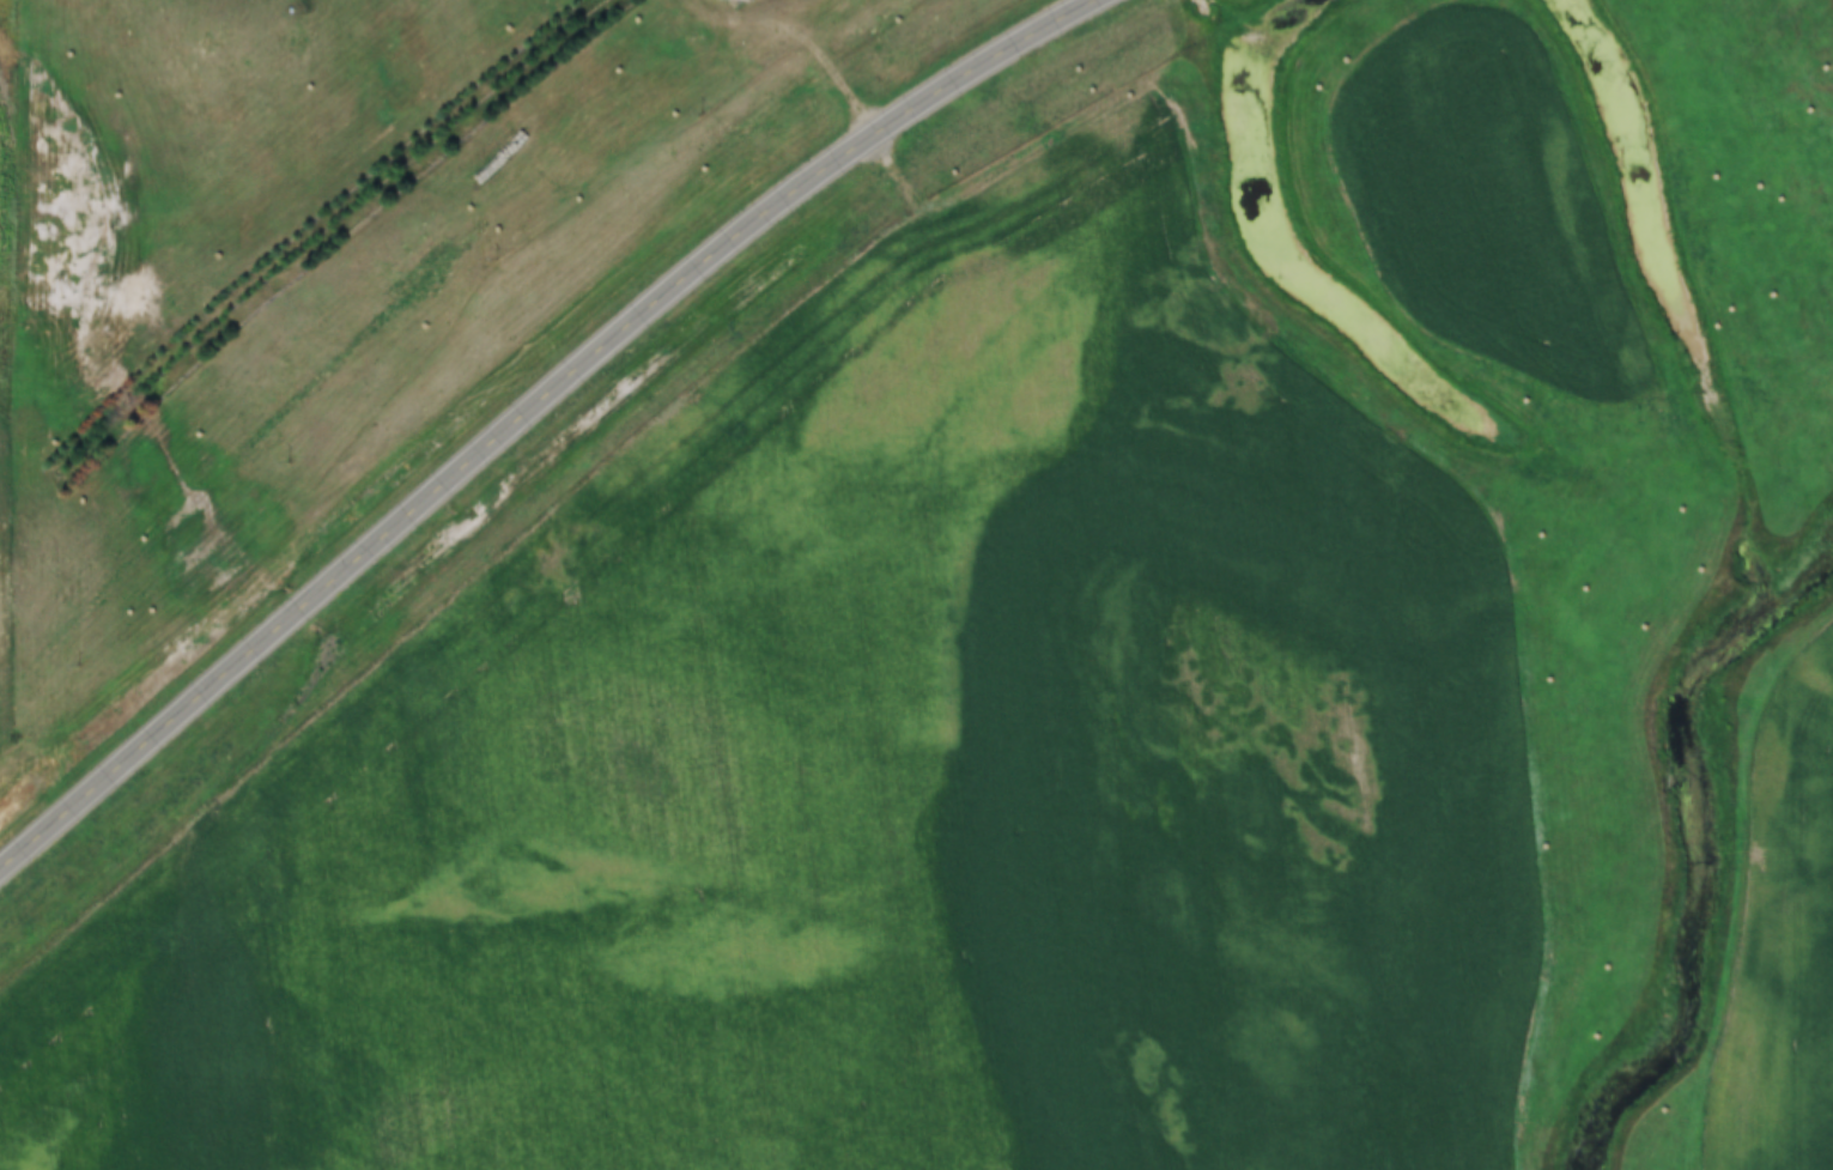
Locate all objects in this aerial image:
building: (747, 0)
road: (818, 51)
road: (527, 410)
road: (1006, 639)
road: (1766, 910)

